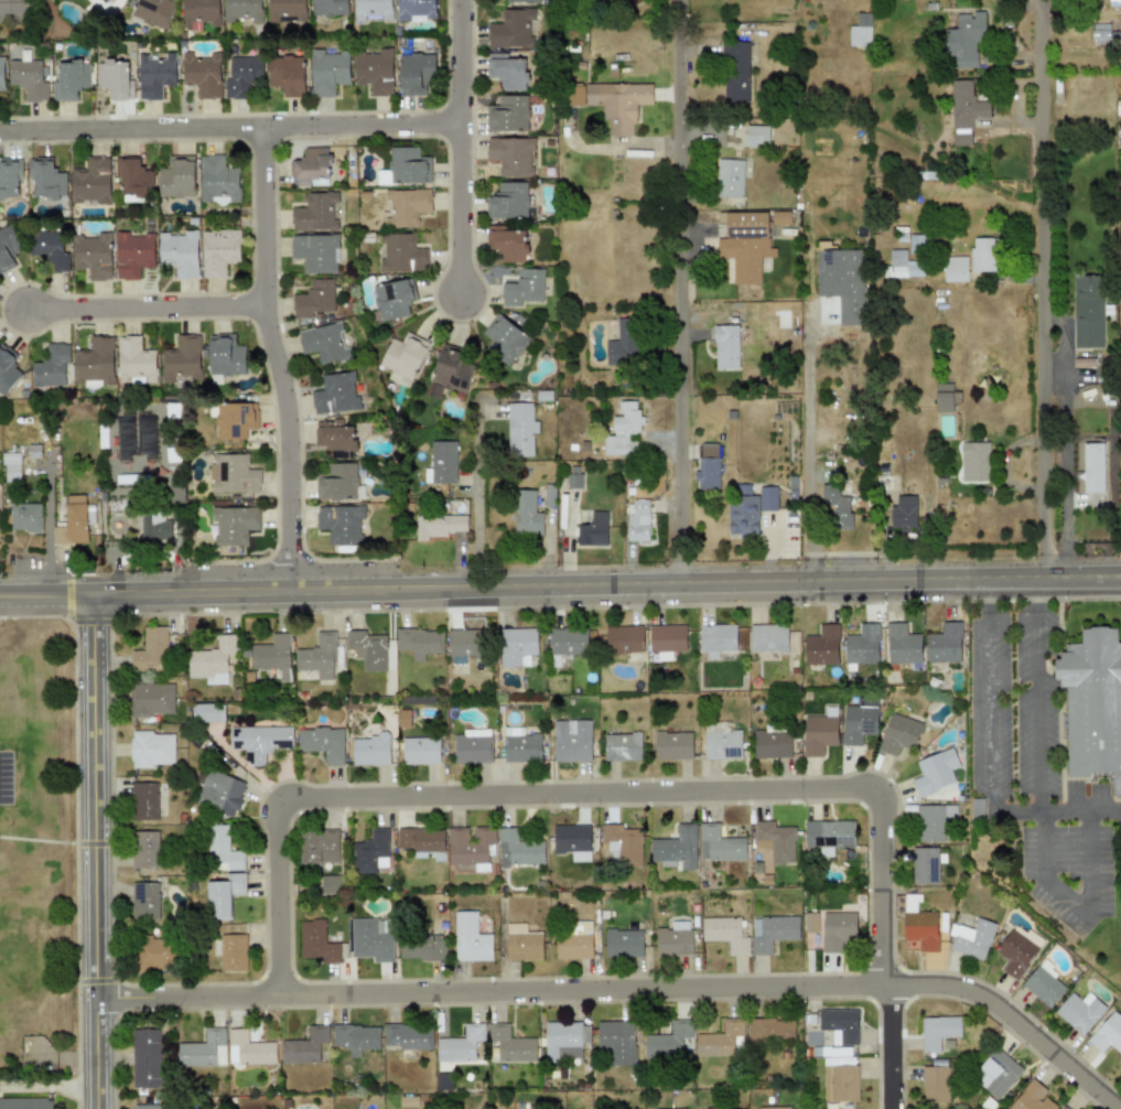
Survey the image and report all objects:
building: (104, 1)
building: (524, 1)
building: (1113, 2)
building: (328, 7)
building: (12, 10)
building: (241, 10)
building: (284, 10)
building: (373, 10)
building: (414, 10)
building: (200, 11)
building: (153, 12)
building: (510, 29)
building: (860, 31)
building: (1106, 32)
building: (963, 40)
road: (459, 61)
building: (374, 71)
building: (506, 71)
building: (327, 72)
building: (735, 72)
building: (0, 74)
building: (202, 74)
building: (287, 74)
building: (416, 74)
building: (154, 75)
building: (242, 75)
building: (28, 78)
building: (69, 79)
building: (575, 95)
building: (617, 98)
building: (964, 111)
building: (507, 114)
road: (359, 125)
road: (130, 128)
building: (621, 129)
building: (756, 136)
building: (511, 155)
building: (311, 164)
building: (406, 165)
building: (131, 174)
building: (9, 175)
building: (176, 177)
building: (729, 177)
building: (45, 179)
building: (217, 181)
building: (90, 182)
building: (507, 201)
building: (406, 206)
road: (459, 207)
building: (314, 213)
building: (507, 243)
building: (8, 245)
building: (744, 246)
building: (50, 248)
building: (218, 250)
building: (315, 251)
building: (179, 252)
building: (132, 254)
building: (983, 254)
building: (399, 255)
building: (93, 256)
building: (902, 266)
building: (953, 269)
building: (841, 281)
building: (522, 287)
road: (1045, 289)
road: (678, 291)
building: (314, 298)
building: (392, 299)
road: (143, 308)
building: (1087, 311)
building: (504, 340)
building: (324, 343)
building: (623, 343)
building: (725, 346)
building: (225, 356)
road: (273, 358)
building: (403, 358)
building: (181, 359)
building: (95, 362)
building: (134, 362)
building: (51, 366)
building: (7, 367)
building: (449, 370)
building: (335, 394)
building: (944, 397)
building: (234, 419)
building: (520, 429)
building: (623, 430)
building: (335, 439)
road: (807, 445)
building: (974, 461)
building: (441, 462)
building: (707, 466)
building: (11, 467)
building: (1092, 467)
building: (233, 474)
building: (338, 483)
road: (492, 498)
building: (836, 506)
building: (563, 510)
building: (527, 512)
building: (748, 512)
building: (903, 512)
building: (24, 517)
building: (636, 520)
building: (72, 523)
building: (341, 523)
building: (233, 525)
building: (438, 525)
building: (155, 528)
building: (592, 530)
road: (560, 584)
building: (768, 638)
building: (624, 639)
building: (716, 639)
building: (666, 640)
building: (419, 642)
building: (464, 643)
building: (567, 644)
building: (902, 644)
building: (944, 644)
building: (822, 645)
building: (517, 646)
building: (862, 646)
building: (151, 647)
building: (367, 649)
building: (271, 655)
building: (317, 657)
building: (209, 658)
road: (989, 696)
building: (151, 698)
building: (1092, 703)
building: (207, 712)
building: (859, 721)
road: (1036, 721)
building: (818, 732)
building: (898, 733)
building: (259, 741)
building: (571, 741)
building: (721, 741)
building: (322, 743)
building: (772, 743)
building: (471, 745)
building: (520, 745)
building: (672, 745)
building: (622, 746)
building: (151, 749)
building: (369, 751)
building: (420, 751)
building: (934, 772)
parking lot: (4, 777)
building: (220, 792)
road: (575, 795)
building: (143, 801)
building: (977, 807)
road: (1056, 810)
building: (933, 820)
building: (829, 833)
building: (419, 839)
building: (572, 841)
building: (622, 841)
building: (775, 841)
building: (468, 844)
building: (719, 844)
building: (319, 848)
building: (518, 848)
building: (144, 849)
building: (675, 849)
road: (94, 850)
building: (222, 850)
building: (370, 852)
building: (926, 864)
road: (1087, 864)
road: (1064, 891)
building: (224, 895)
building: (144, 901)
building: (810, 923)
building: (919, 925)
building: (837, 929)
building: (770, 932)
building: (724, 934)
building: (470, 938)
building: (970, 938)
building: (370, 939)
building: (673, 939)
building: (574, 940)
building: (316, 941)
building: (521, 943)
building: (623, 944)
building: (422, 947)
building: (158, 952)
building: (233, 952)
building: (1015, 954)
building: (1043, 983)
road: (625, 991)
building: (1079, 1011)
building: (840, 1025)
building: (770, 1031)
building: (938, 1031)
building: (1108, 1033)
building: (407, 1036)
building: (355, 1037)
building: (719, 1040)
building: (562, 1041)
building: (616, 1042)
building: (667, 1042)
building: (460, 1044)
building: (511, 1044)
building: (304, 1046)
road: (892, 1047)
building: (248, 1048)
building: (203, 1049)
building: (145, 1057)
building: (1120, 1069)
building: (995, 1073)
building: (443, 1080)
building: (840, 1083)
building: (935, 1084)
building: (1031, 1098)
building: (25, 1103)
building: (145, 1107)
building: (675, 1108)
building: (774, 1108)
building: (1061, 1108)

